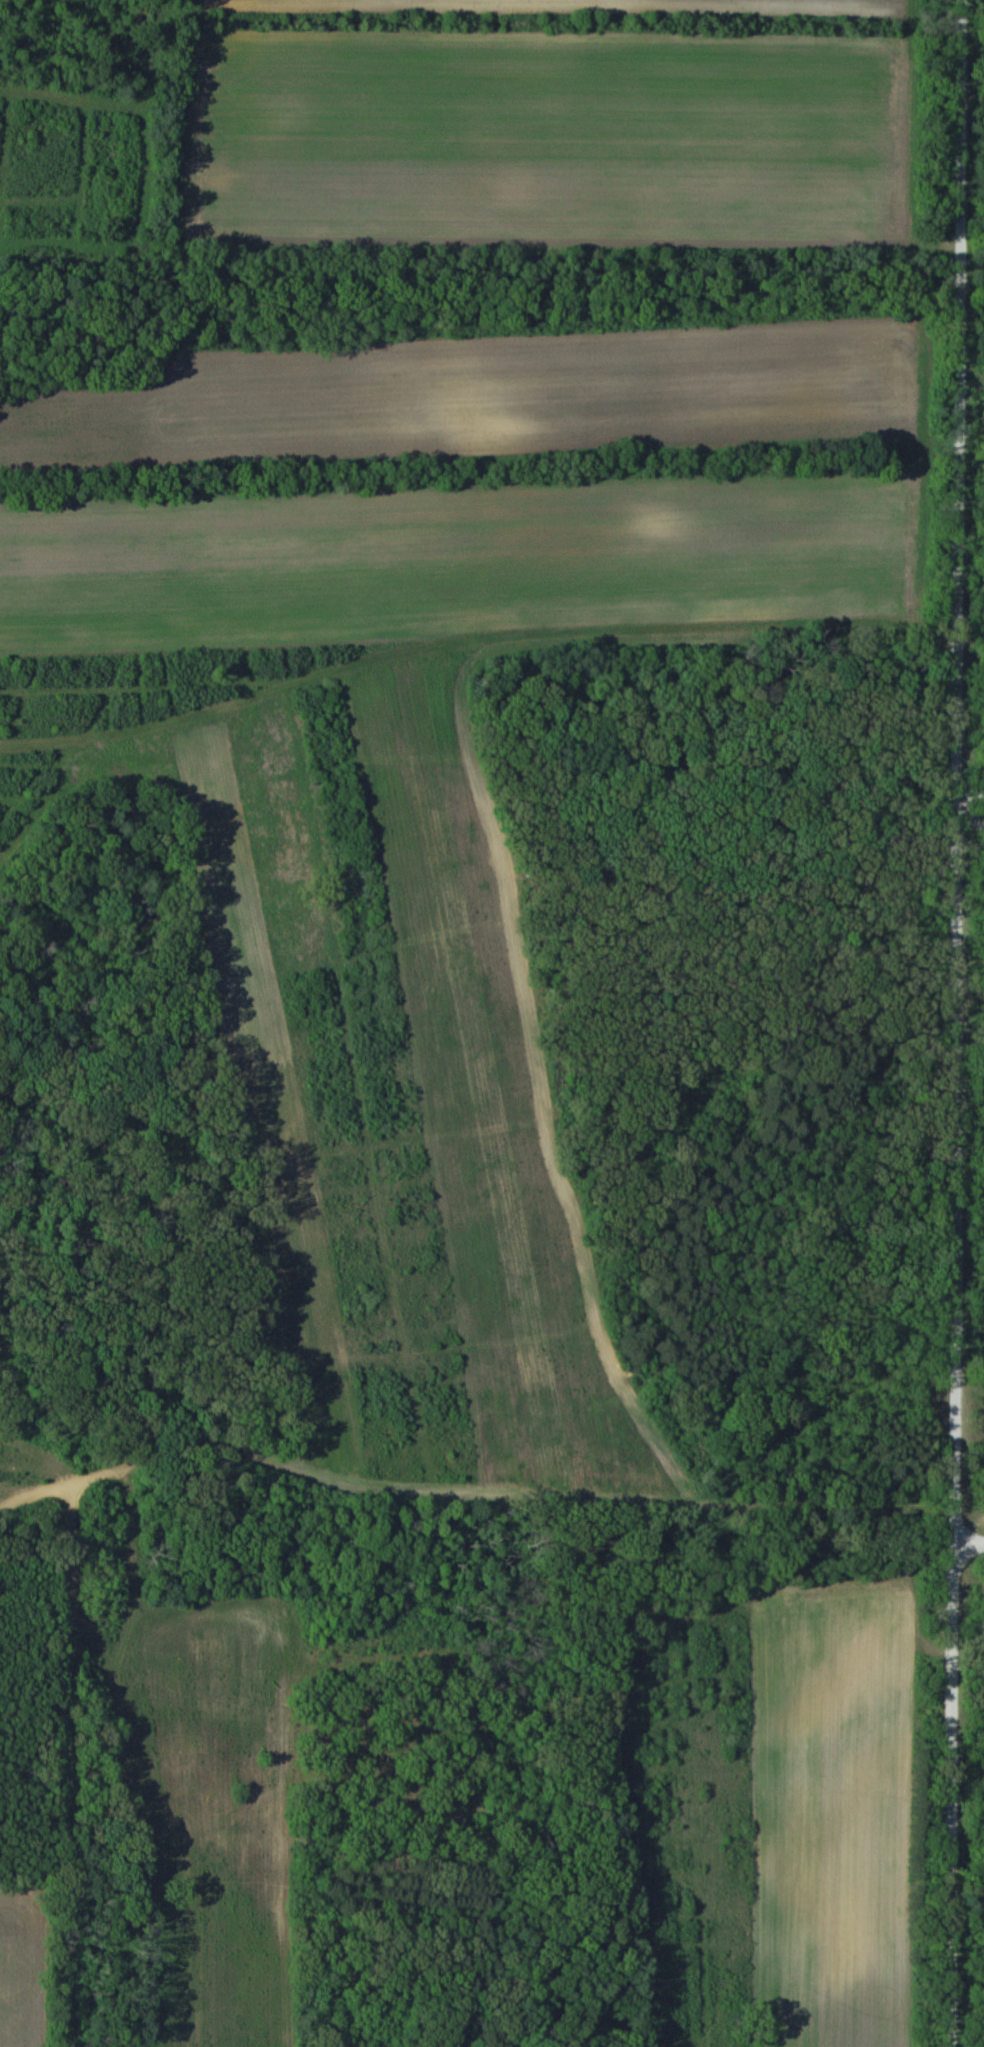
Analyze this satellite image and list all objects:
road: (959, 1023)
road: (969, 1539)

